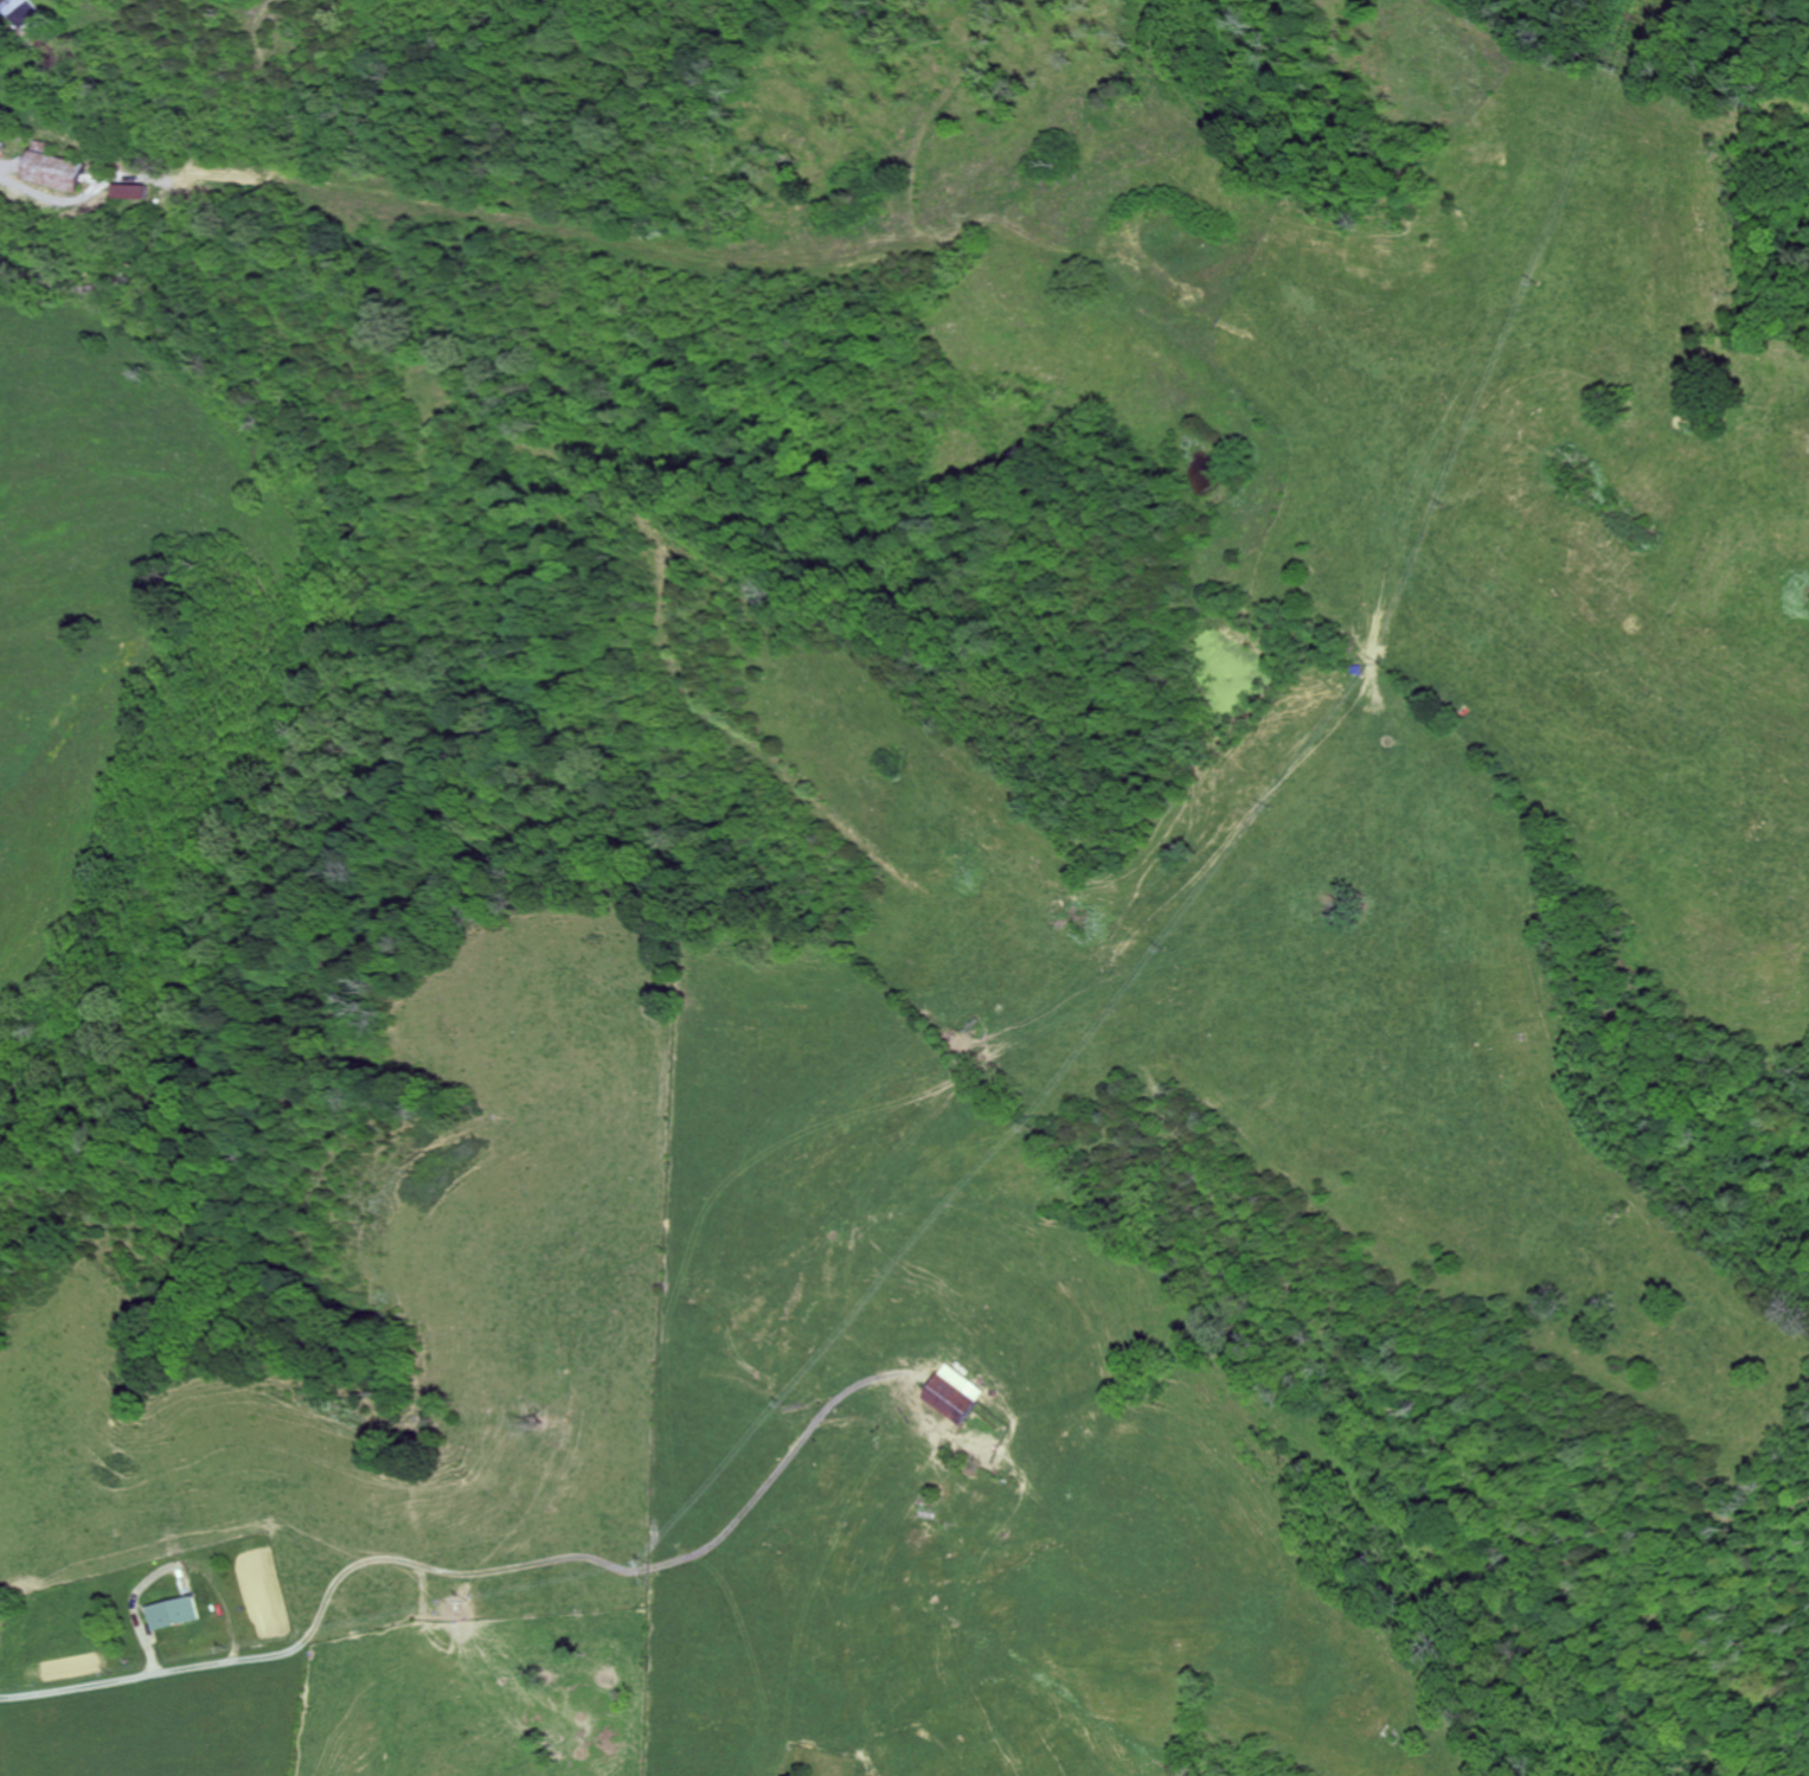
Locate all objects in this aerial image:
building: (17, 6)
building: (70, 171)
road: (4, 180)
road: (353, 646)
building: (961, 1398)
road: (469, 1569)
building: (180, 1611)

